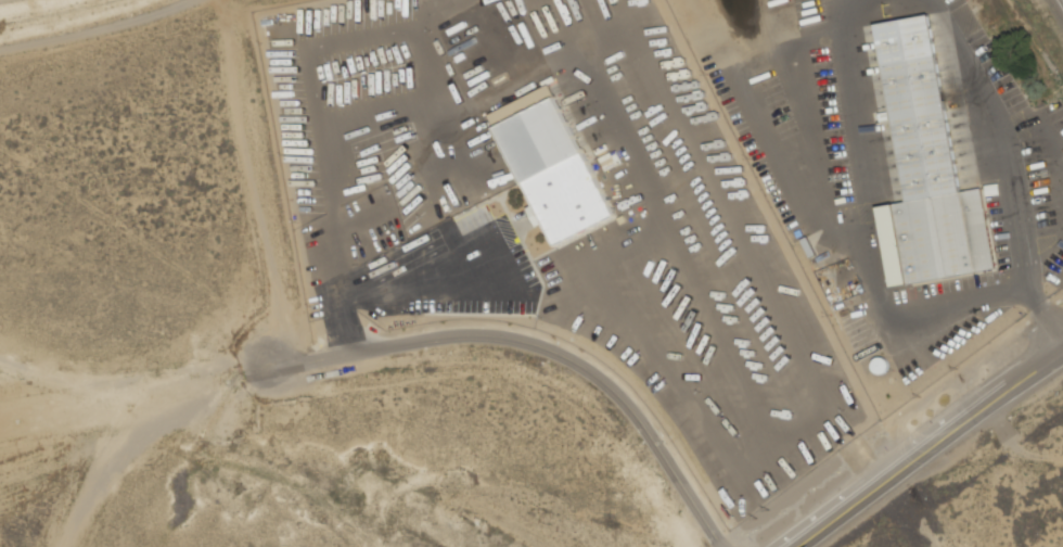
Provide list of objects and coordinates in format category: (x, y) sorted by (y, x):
road: (1001, 137)
building: (931, 167)
building: (554, 170)
parking lot: (555, 211)
road: (869, 227)
road: (401, 292)
road: (1043, 323)
road: (513, 343)
building: (879, 364)
storage tank: (879, 364)
road: (927, 445)

